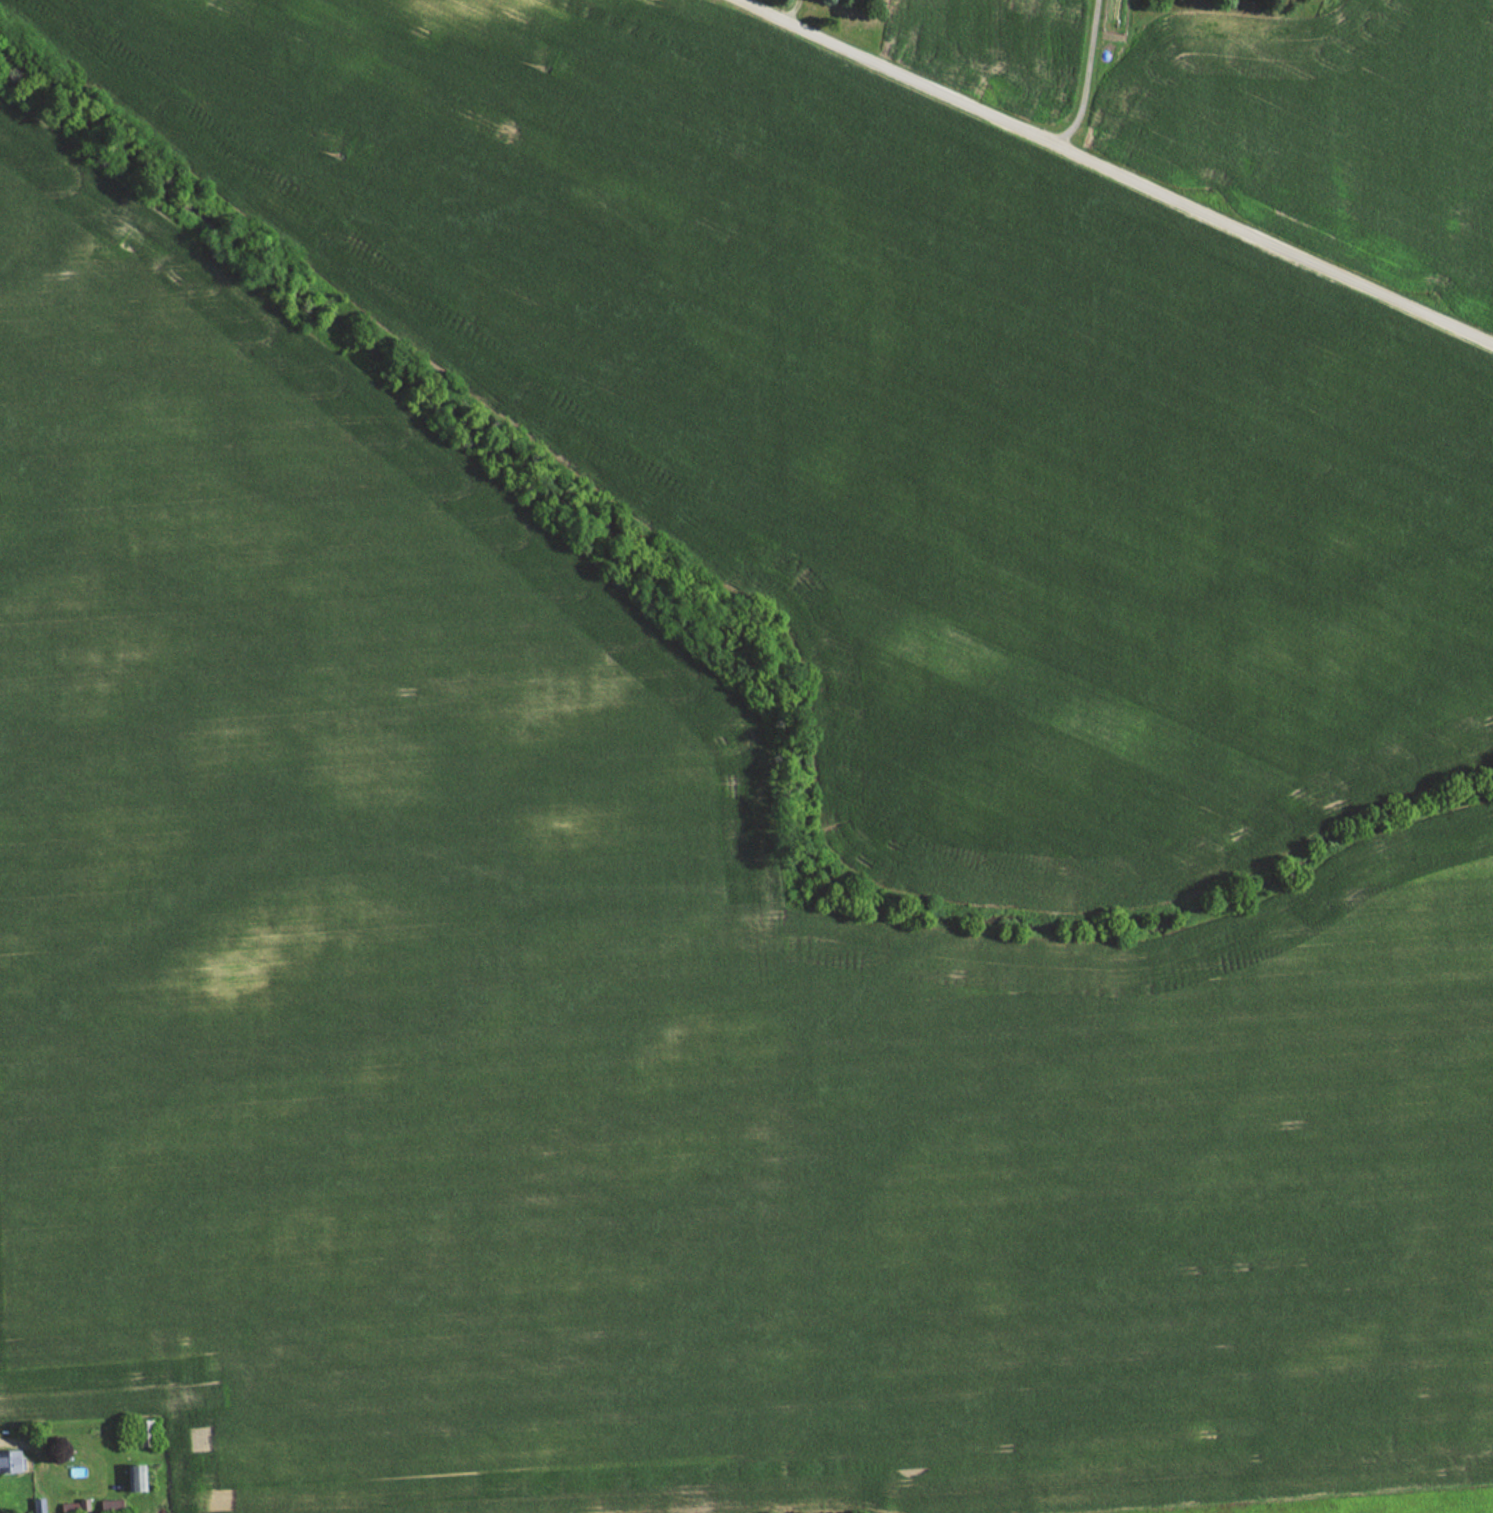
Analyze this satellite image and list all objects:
road: (1085, 73)
road: (1116, 168)
building: (8, 1462)
building: (131, 1478)
building: (33, 1505)

